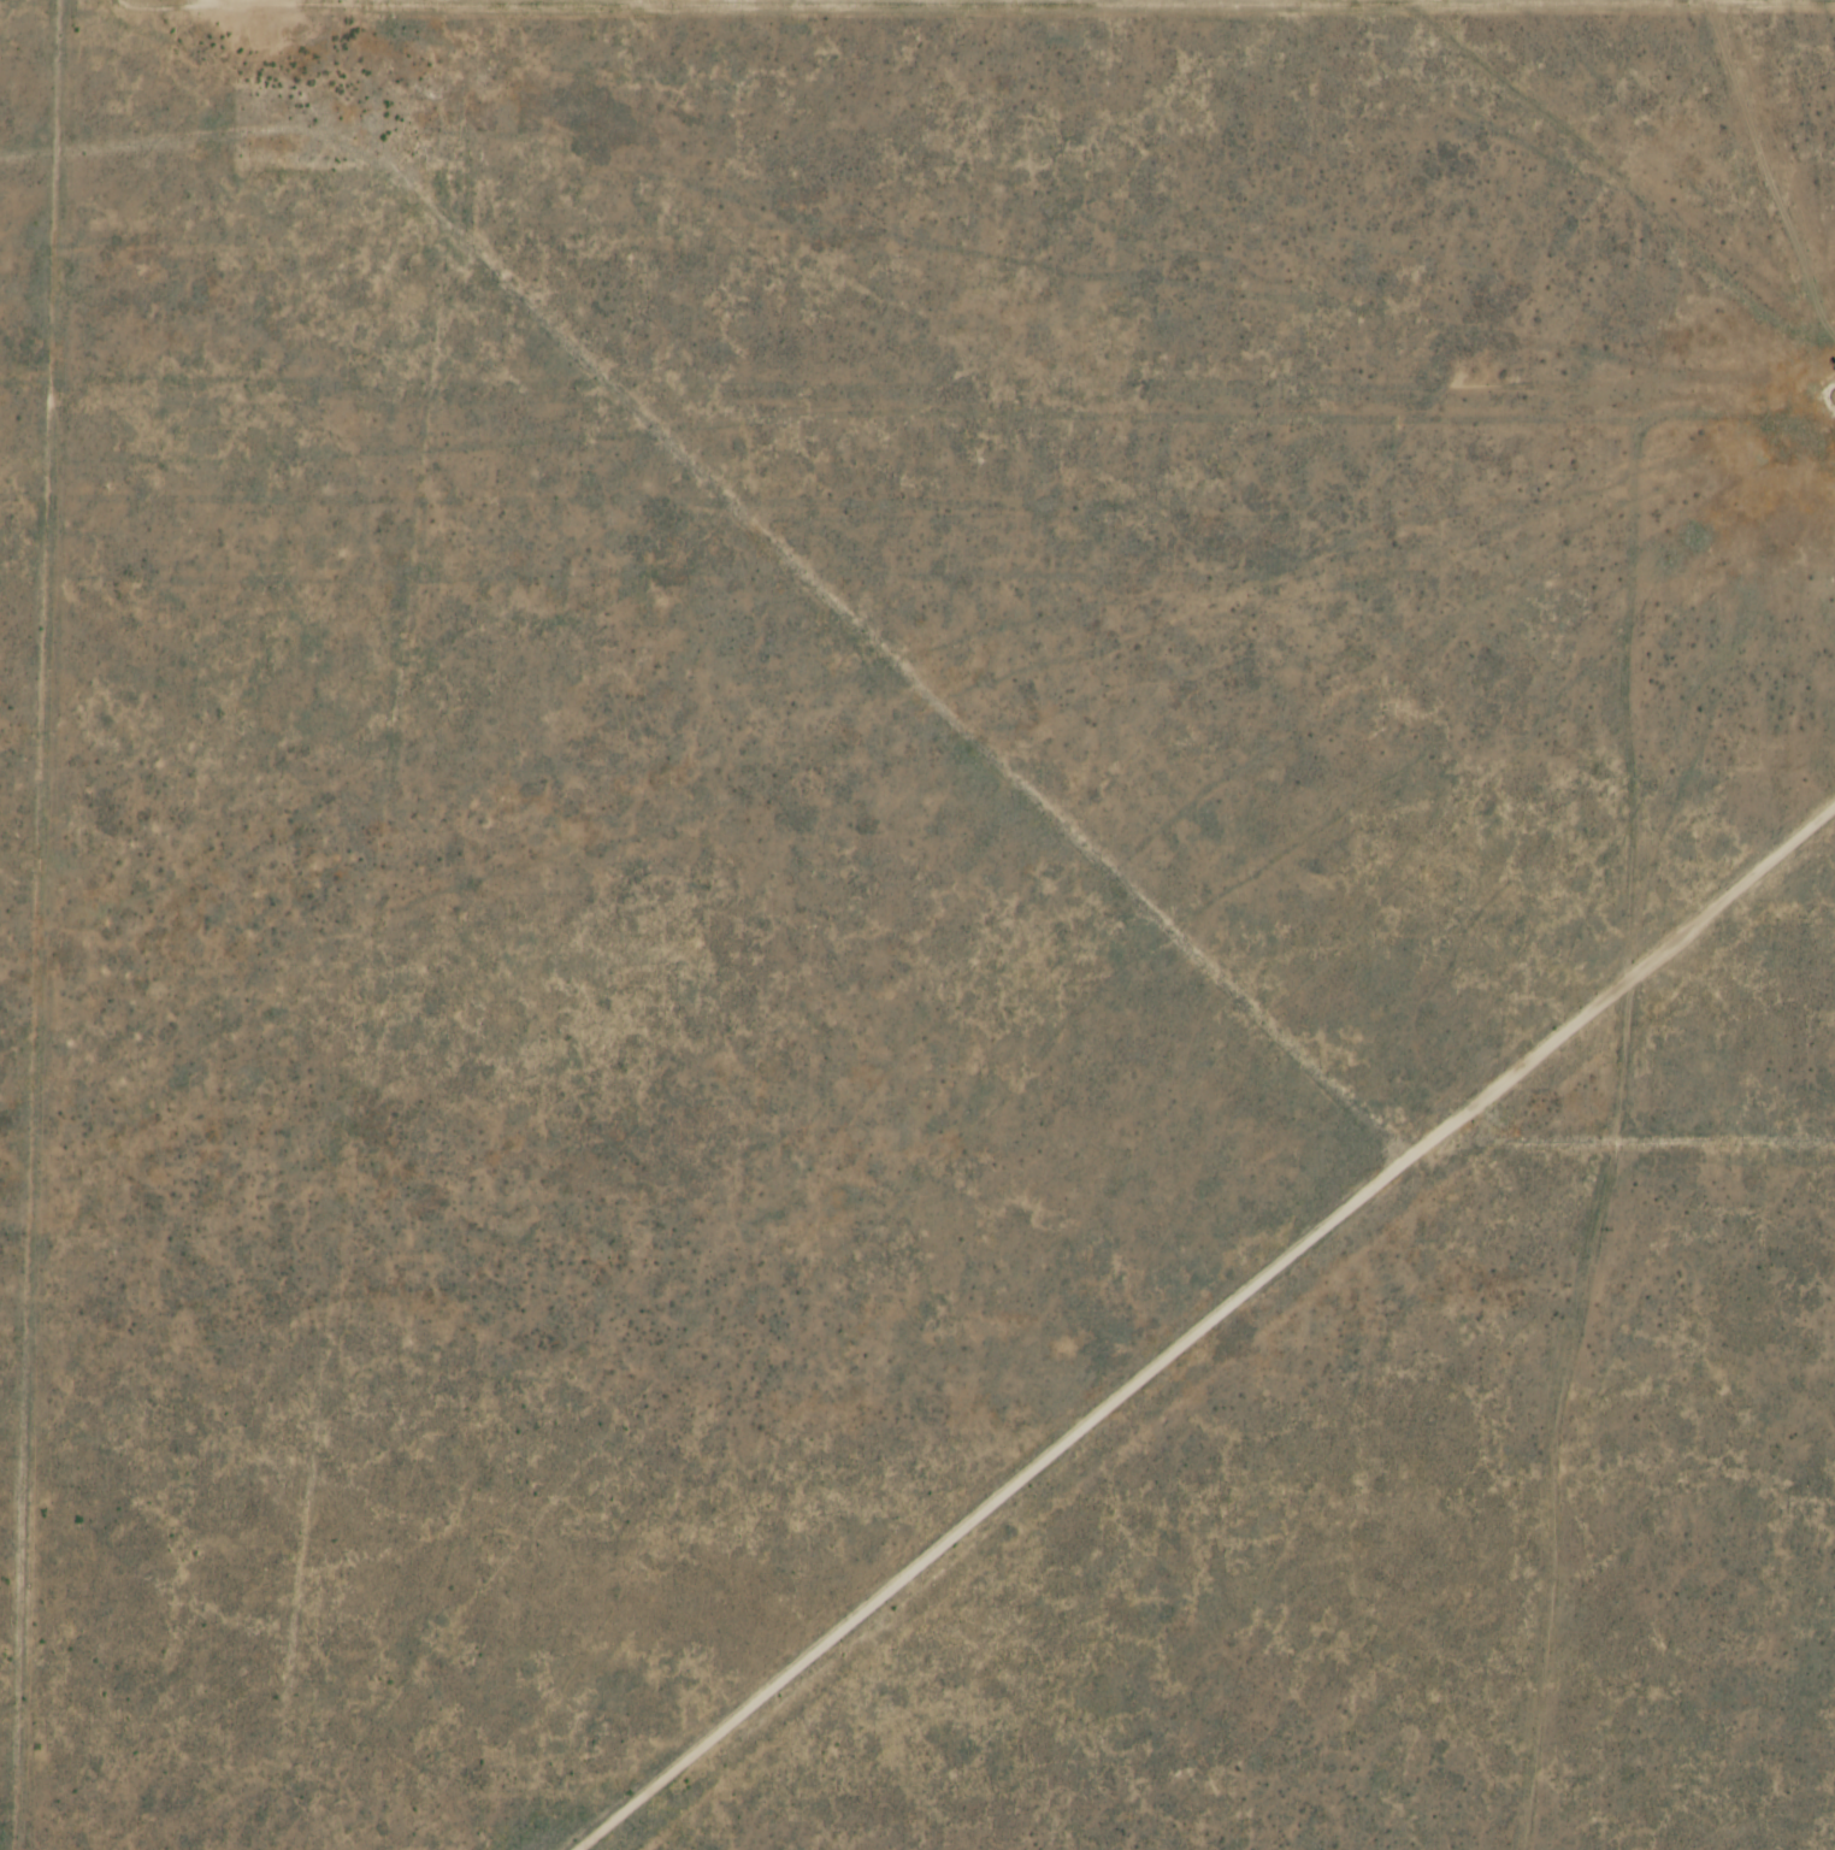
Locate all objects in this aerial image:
road: (1538, 152)
road: (1739, 217)
road: (1306, 1265)
road: (859, 1642)

